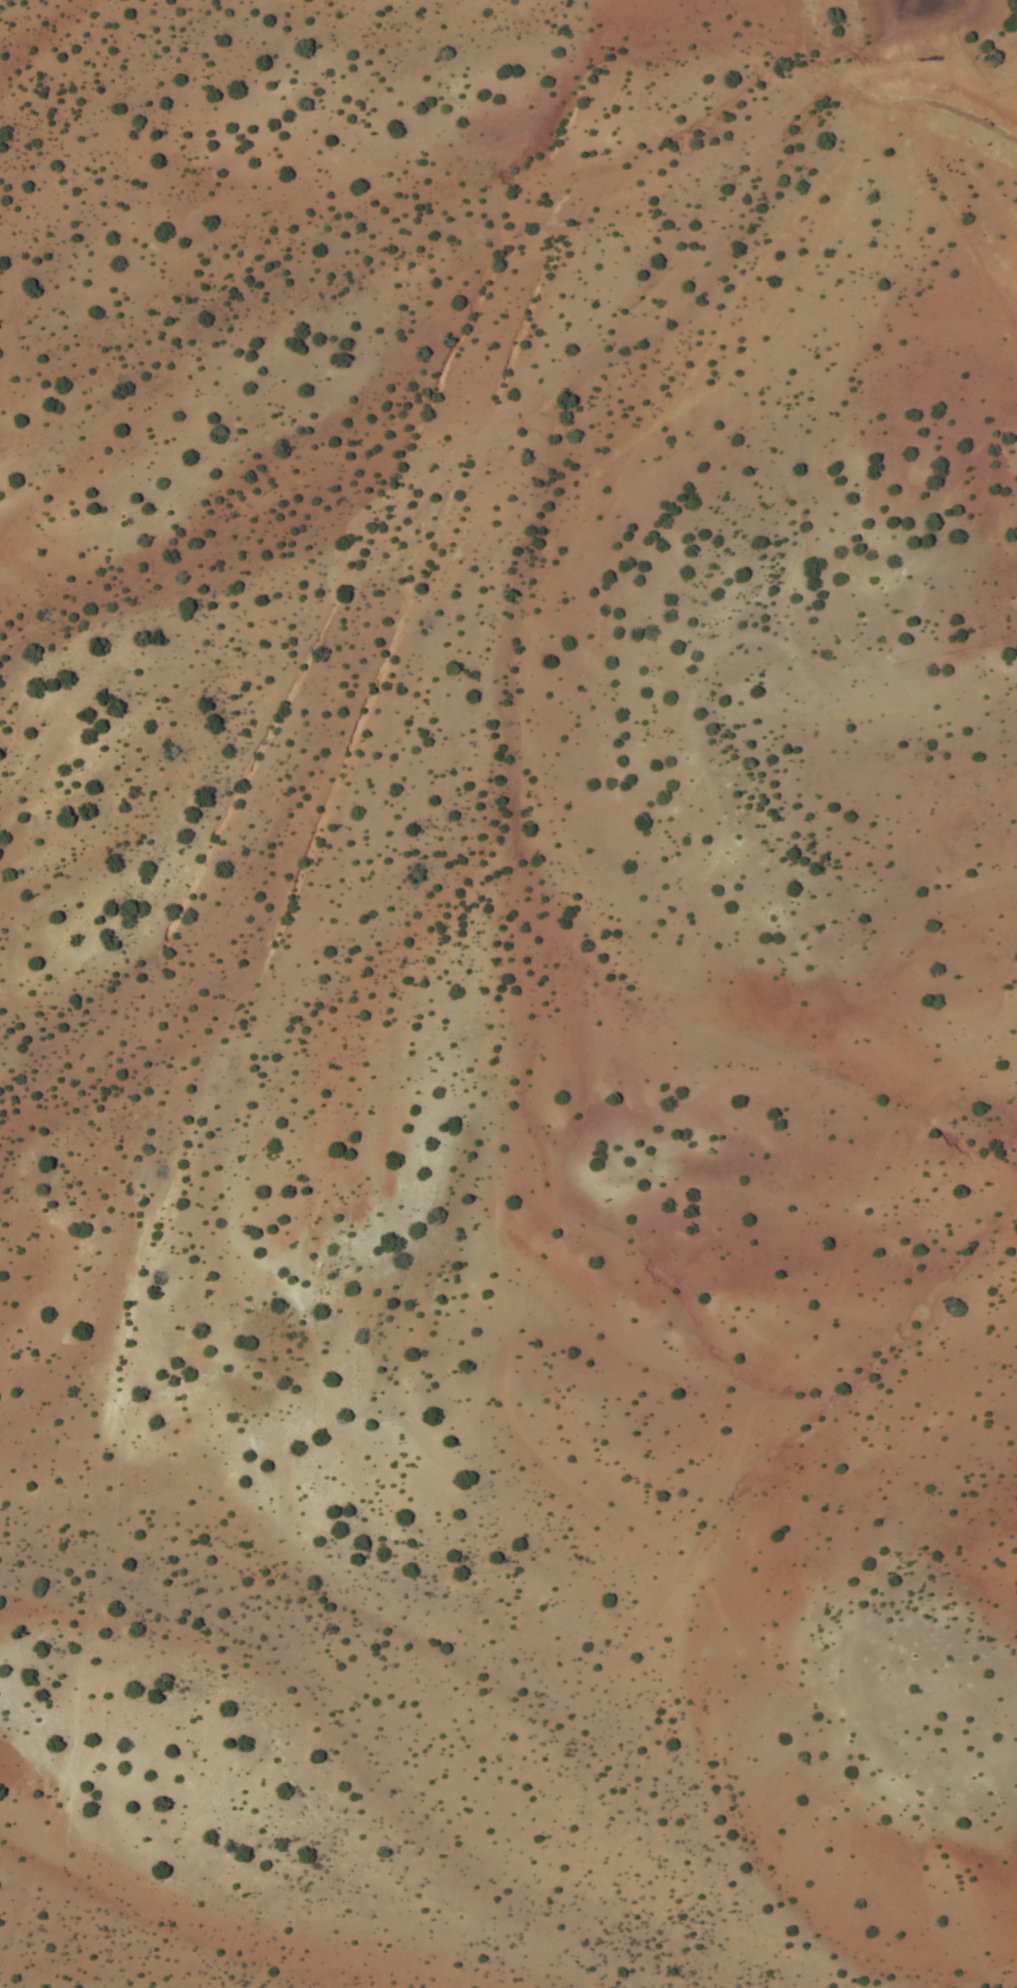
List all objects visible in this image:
road: (936, 71)

